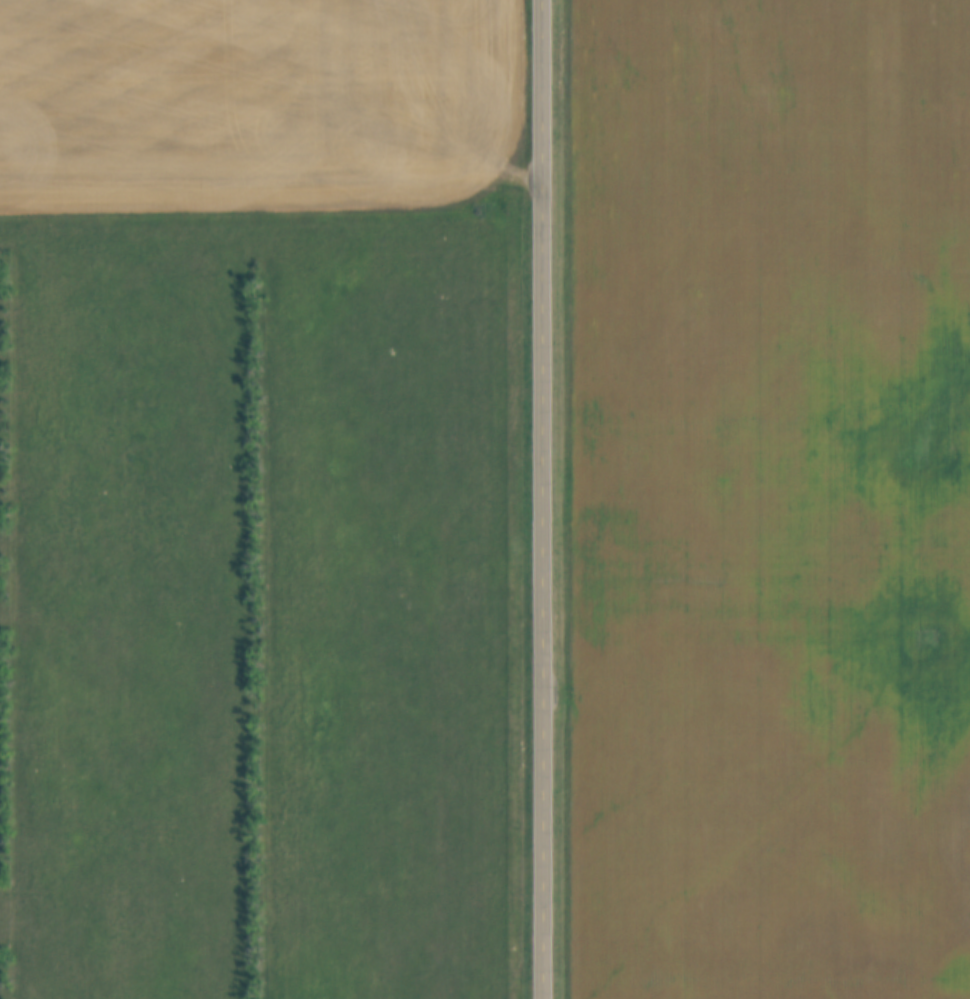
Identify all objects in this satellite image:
road: (542, 499)

